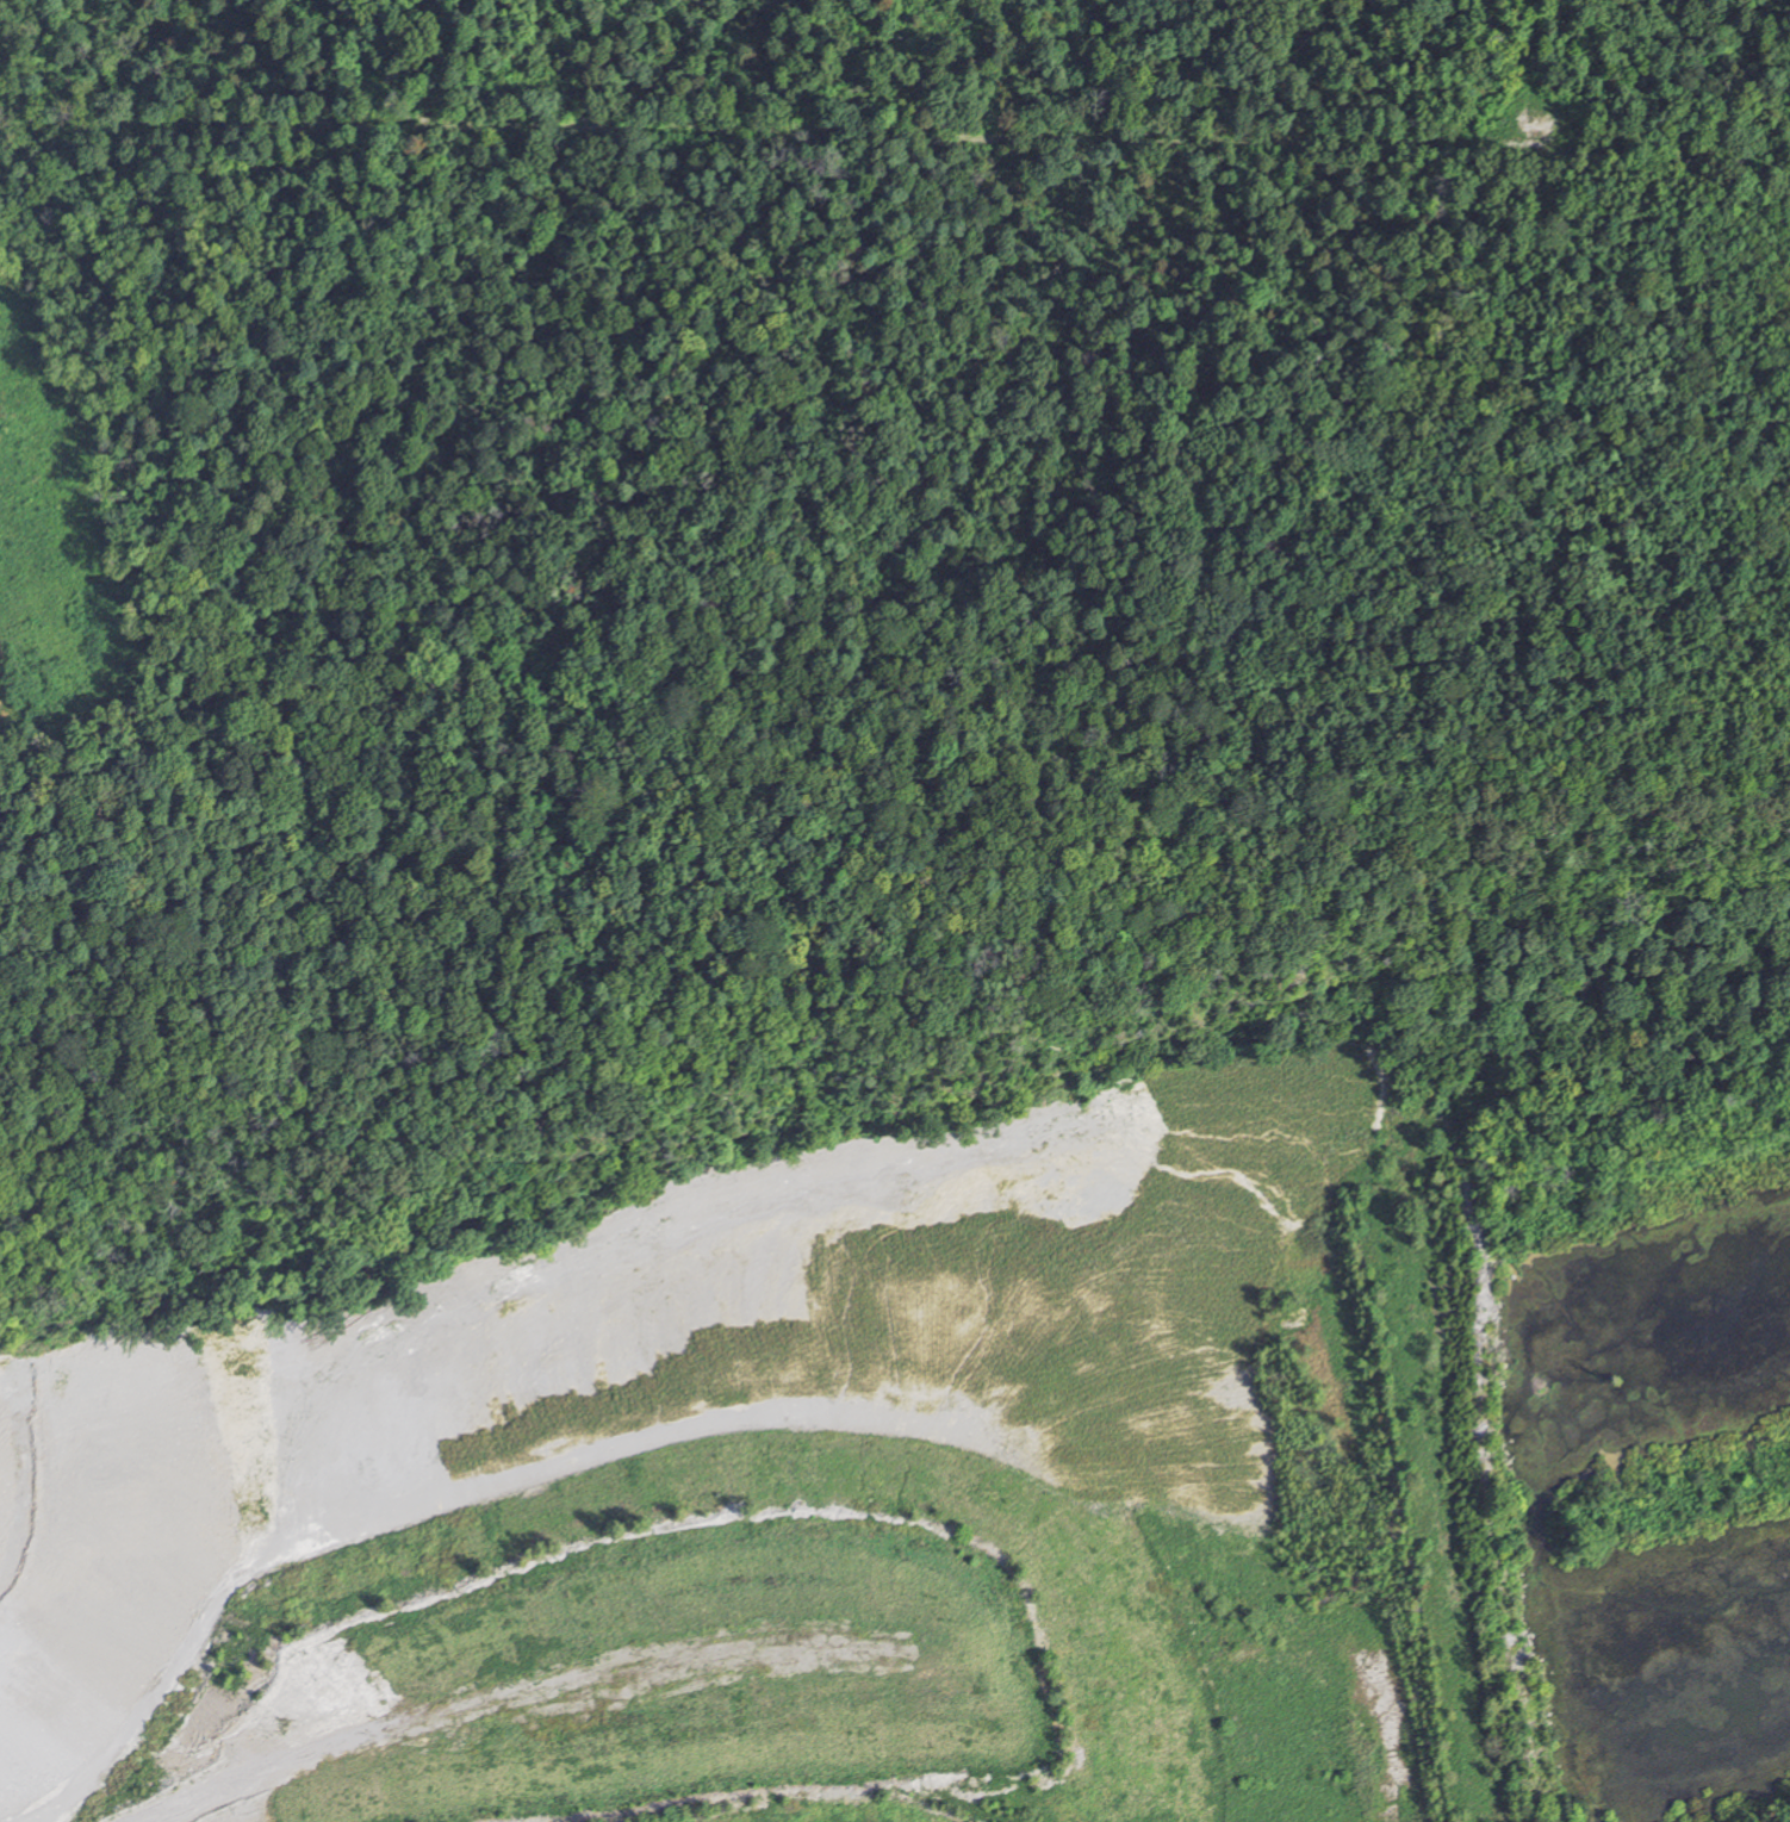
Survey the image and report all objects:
road: (895, 130)
quarry: (742, 1525)
road: (362, 1722)

